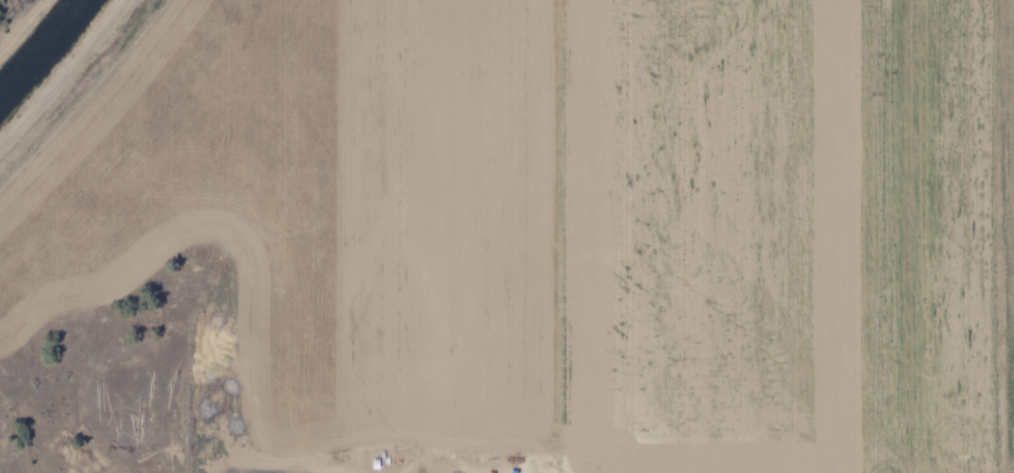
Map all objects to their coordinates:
road: (67, 78)
crop: (507, 236)

